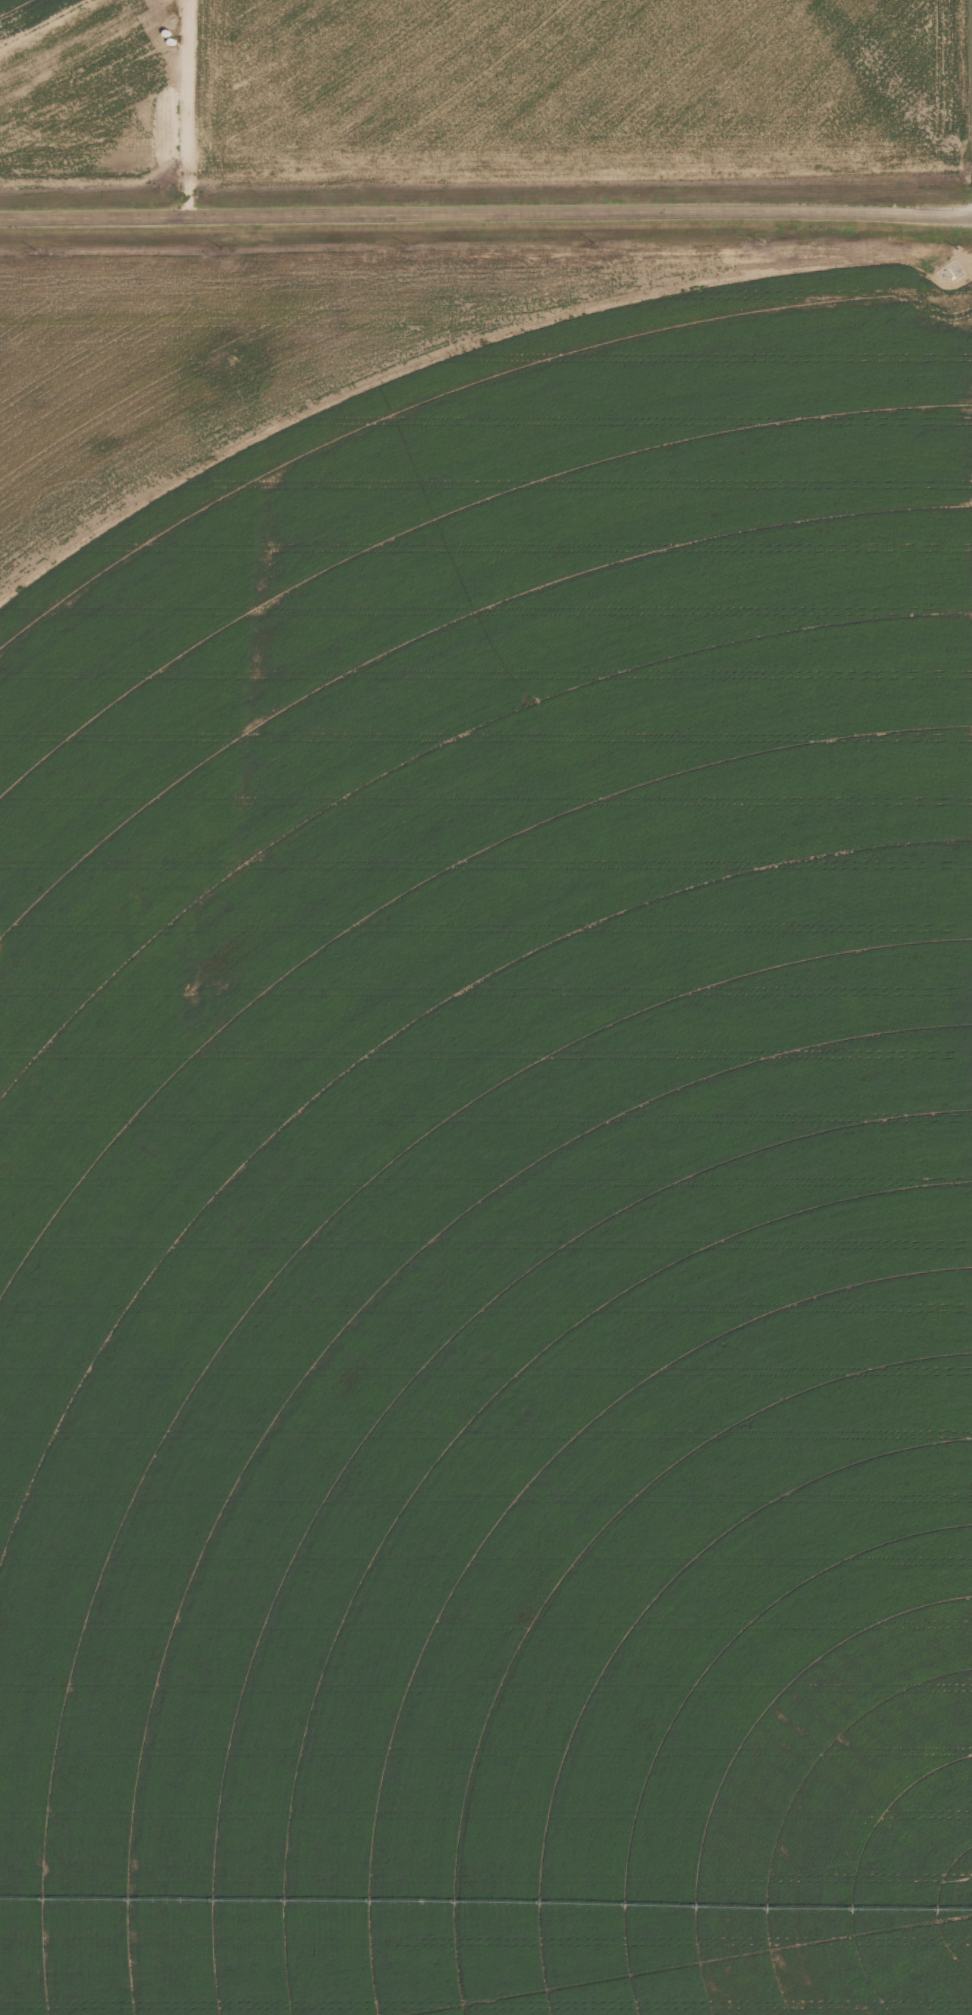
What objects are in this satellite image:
road: (172, 110)
road: (486, 218)

